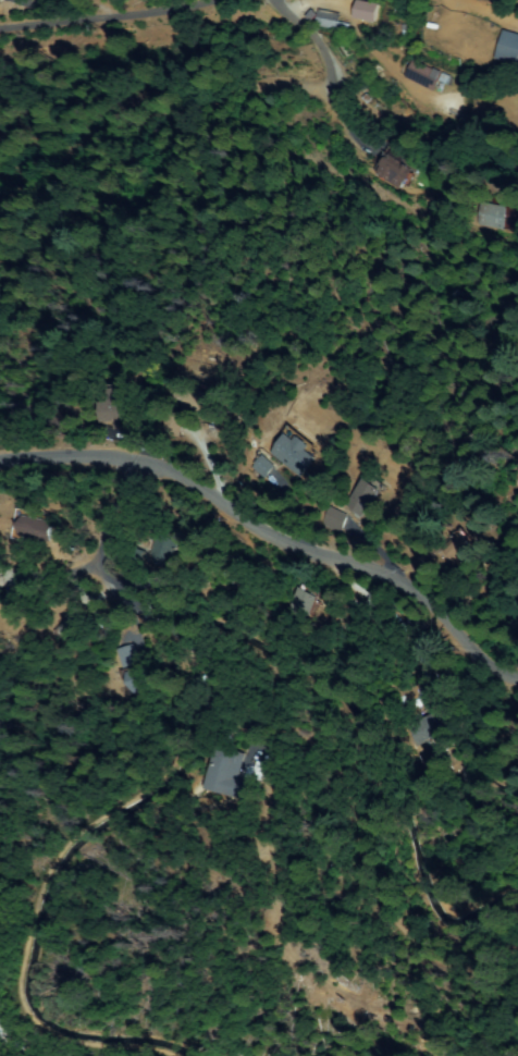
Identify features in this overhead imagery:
building: (0, 1)
road: (149, 8)
building: (330, 21)
road: (53, 25)
building: (508, 49)
building: (427, 75)
building: (395, 171)
building: (491, 217)
building: (516, 235)
building: (200, 402)
building: (112, 408)
building: (295, 454)
building: (262, 467)
building: (276, 482)
building: (363, 496)
road: (101, 515)
building: (333, 517)
building: (37, 529)
road: (277, 529)
building: (458, 548)
building: (158, 553)
building: (303, 603)
building: (469, 604)
building: (74, 626)
building: (128, 656)
building: (140, 682)
building: (428, 730)
building: (225, 775)

